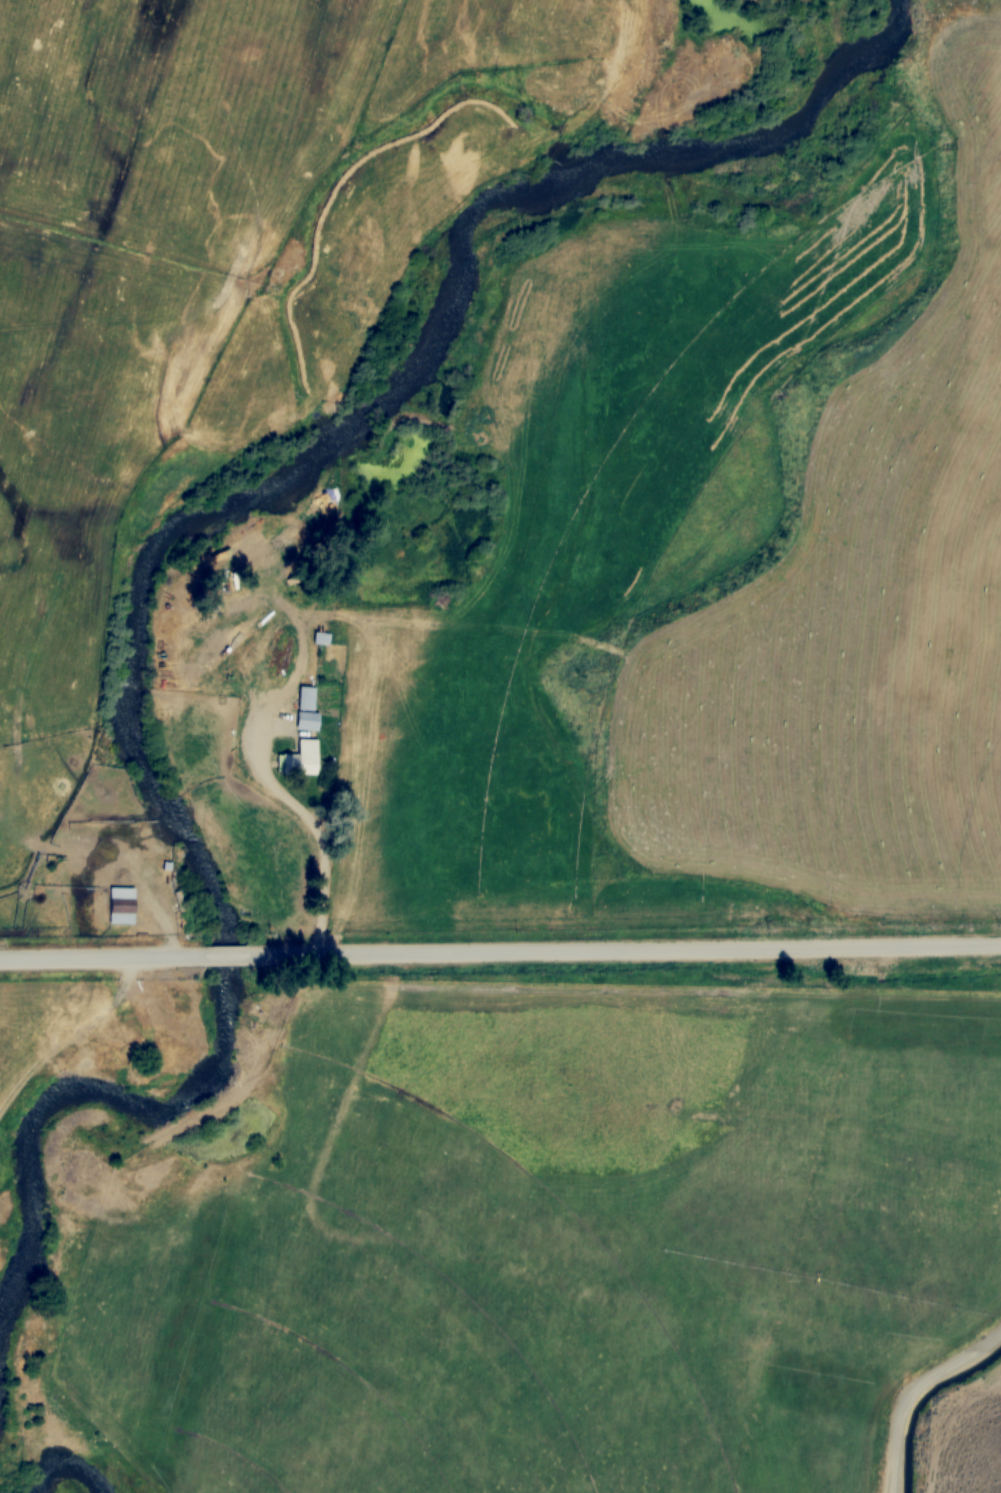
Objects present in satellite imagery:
river: (166, 540)
building: (324, 637)
building: (310, 709)
building: (302, 758)
building: (125, 905)
road: (622, 951)
road: (229, 957)
road: (107, 958)
river: (64, 1478)

